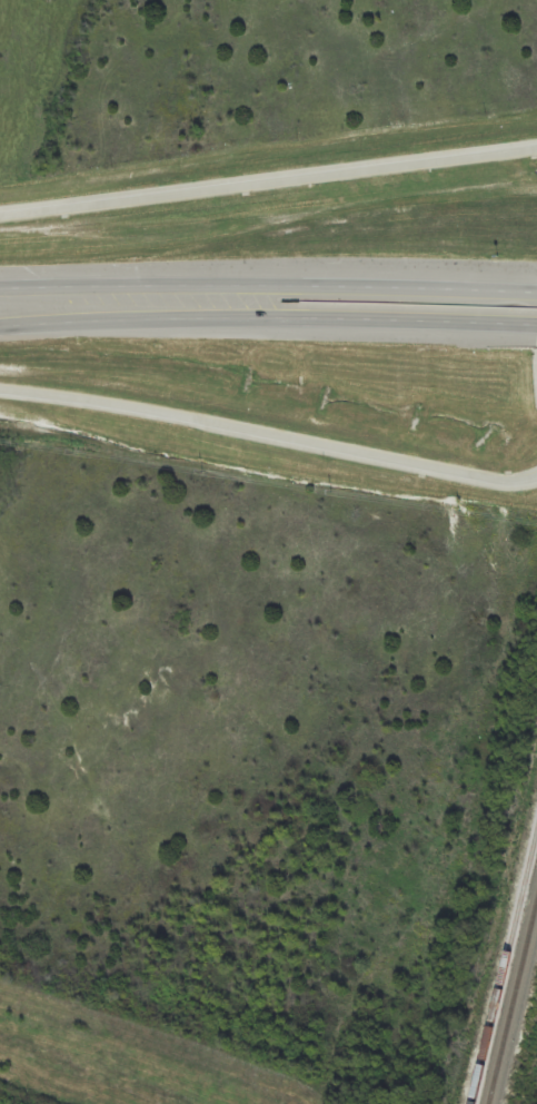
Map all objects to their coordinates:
road: (268, 181)
building: (47, 236)
road: (421, 286)
road: (153, 287)
road: (268, 322)
road: (269, 438)
railway: (505, 969)
railway: (515, 1009)

